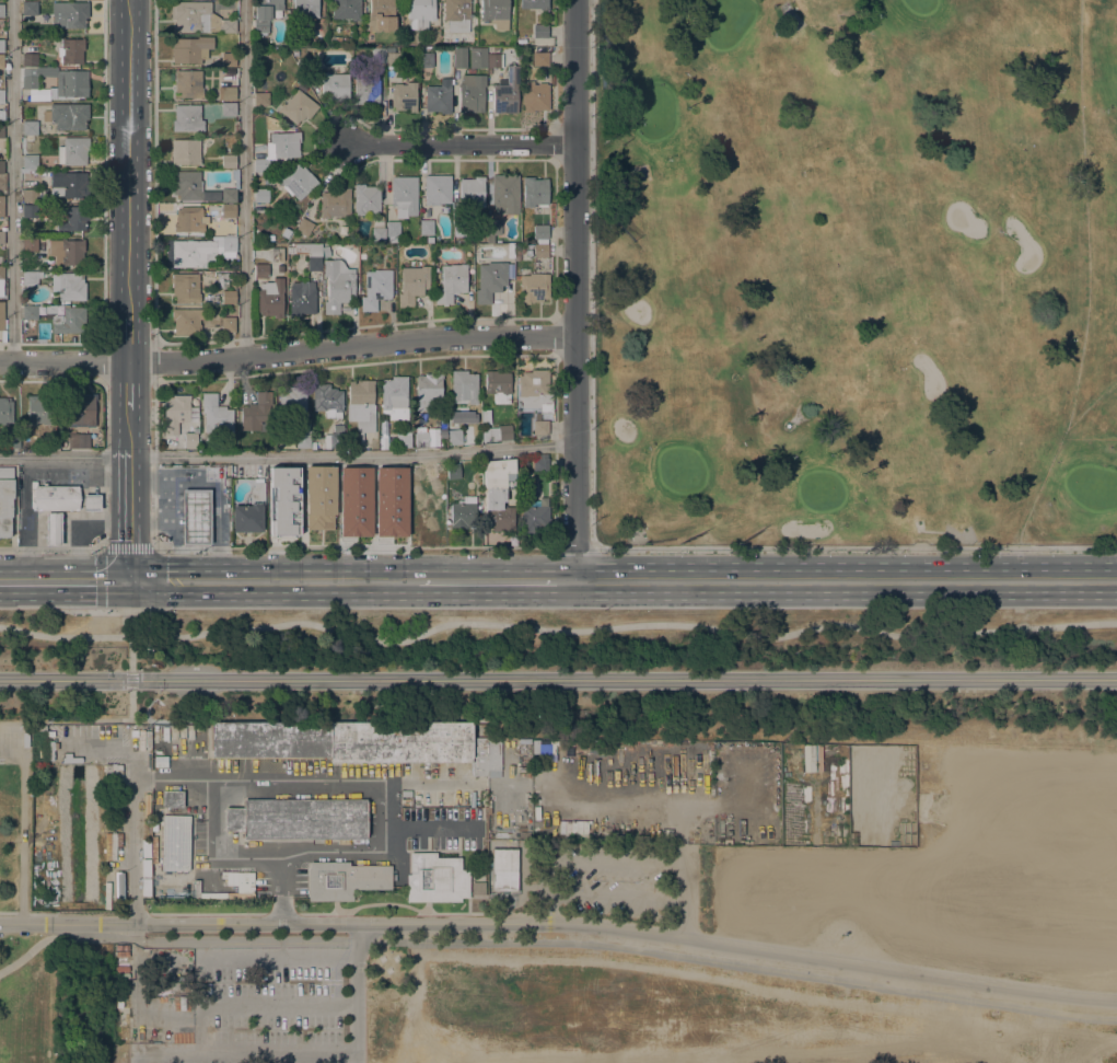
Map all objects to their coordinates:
building: (534, 4)
park: (919, 5)
building: (28, 8)
building: (304, 9)
building: (346, 9)
building: (1, 10)
building: (493, 10)
building: (420, 13)
building: (69, 14)
building: (265, 14)
building: (456, 14)
building: (381, 15)
building: (194, 16)
park: (726, 22)
building: (228, 25)
building: (539, 31)
building: (335, 38)
building: (346, 39)
building: (1, 45)
building: (190, 48)
building: (71, 50)
building: (295, 53)
building: (377, 54)
building: (458, 57)
building: (477, 57)
building: (424, 58)
building: (230, 59)
building: (393, 59)
building: (539, 59)
building: (494, 60)
building: (1, 61)
building: (304, 62)
building: (50, 81)
building: (188, 83)
building: (335, 86)
building: (368, 91)
building: (472, 92)
building: (505, 92)
building: (229, 93)
building: (1, 96)
building: (404, 96)
building: (439, 97)
building: (260, 99)
building: (535, 99)
building: (298, 107)
building: (229, 109)
park: (653, 112)
building: (1, 115)
building: (67, 116)
building: (186, 117)
building: (30, 127)
building: (1, 130)
building: (30, 137)
road: (462, 142)
building: (278, 149)
building: (73, 150)
building: (185, 151)
road: (127, 157)
building: (30, 161)
building: (228, 161)
building: (1, 166)
road: (104, 169)
road: (154, 171)
road: (243, 178)
road: (12, 181)
building: (298, 181)
building: (187, 185)
building: (70, 186)
building: (437, 192)
building: (470, 192)
building: (534, 192)
building: (404, 193)
building: (504, 194)
building: (32, 195)
building: (229, 195)
building: (260, 195)
building: (365, 198)
building: (335, 204)
building: (1, 206)
building: (32, 210)
building: (228, 210)
building: (72, 218)
building: (188, 219)
building: (304, 227)
building: (427, 227)
building: (493, 227)
building: (392, 228)
building: (459, 229)
building: (377, 231)
building: (540, 231)
building: (1, 236)
building: (30, 244)
building: (228, 244)
building: (67, 251)
building: (510, 251)
building: (326, 252)
building: (517, 252)
building: (538, 252)
building: (310, 254)
building: (200, 255)
building: (0, 259)
building: (260, 270)
park: (857, 271)
road: (591, 273)
building: (30, 278)
building: (1, 279)
building: (490, 280)
building: (451, 282)
building: (337, 285)
building: (412, 285)
building: (69, 286)
building: (185, 287)
building: (534, 287)
building: (376, 288)
road: (573, 290)
building: (228, 297)
building: (270, 298)
building: (302, 298)
building: (50, 309)
building: (30, 313)
building: (69, 320)
building: (186, 321)
building: (2, 322)
building: (228, 324)
road: (128, 337)
road: (287, 353)
road: (446, 355)
road: (104, 360)
road: (153, 360)
building: (465, 384)
road: (128, 385)
building: (498, 386)
building: (535, 390)
building: (428, 391)
building: (394, 392)
building: (194, 400)
building: (292, 400)
building: (327, 400)
building: (5, 409)
building: (38, 409)
building: (80, 409)
building: (360, 411)
building: (175, 413)
building: (257, 413)
building: (216, 415)
building: (462, 416)
road: (128, 425)
building: (540, 427)
building: (504, 432)
building: (302, 435)
building: (337, 437)
building: (454, 437)
building: (420, 438)
building: (12, 439)
building: (78, 439)
building: (403, 439)
building: (53, 440)
building: (190, 440)
road: (287, 457)
road: (104, 464)
building: (449, 471)
park: (682, 471)
building: (417, 473)
park: (1091, 489)
park: (818, 492)
building: (498, 493)
building: (319, 497)
building: (56, 498)
building: (5, 499)
building: (283, 501)
building: (353, 501)
building: (389, 501)
building: (91, 502)
road: (129, 509)
building: (249, 511)
building: (463, 512)
building: (196, 517)
building: (534, 517)
road: (25, 518)
building: (428, 519)
building: (53, 528)
road: (573, 546)
road: (854, 546)
road: (50, 548)
road: (271, 548)
road: (101, 567)
road: (63, 579)
traffic signals: (129, 579)
road: (272, 580)
road: (494, 580)
road: (845, 580)
road: (557, 629)
road: (20, 720)
road: (3, 721)
building: (361, 742)
road: (209, 781)
road: (432, 782)
building: (172, 799)
road: (620, 801)
building: (298, 819)
road: (429, 828)
park: (558, 835)
building: (108, 839)
building: (175, 843)
road: (270, 853)
building: (504, 869)
building: (435, 879)
building: (344, 880)
parking lot: (616, 882)
building: (115, 885)
road: (280, 887)
road: (677, 889)
park: (23, 911)
road: (11, 912)
road: (177, 923)
road: (516, 923)
road: (581, 944)
road: (30, 949)
road: (276, 958)
road: (897, 970)
road: (356, 993)
road: (276, 1004)
parking lot: (272, 1007)
road: (242, 1051)

